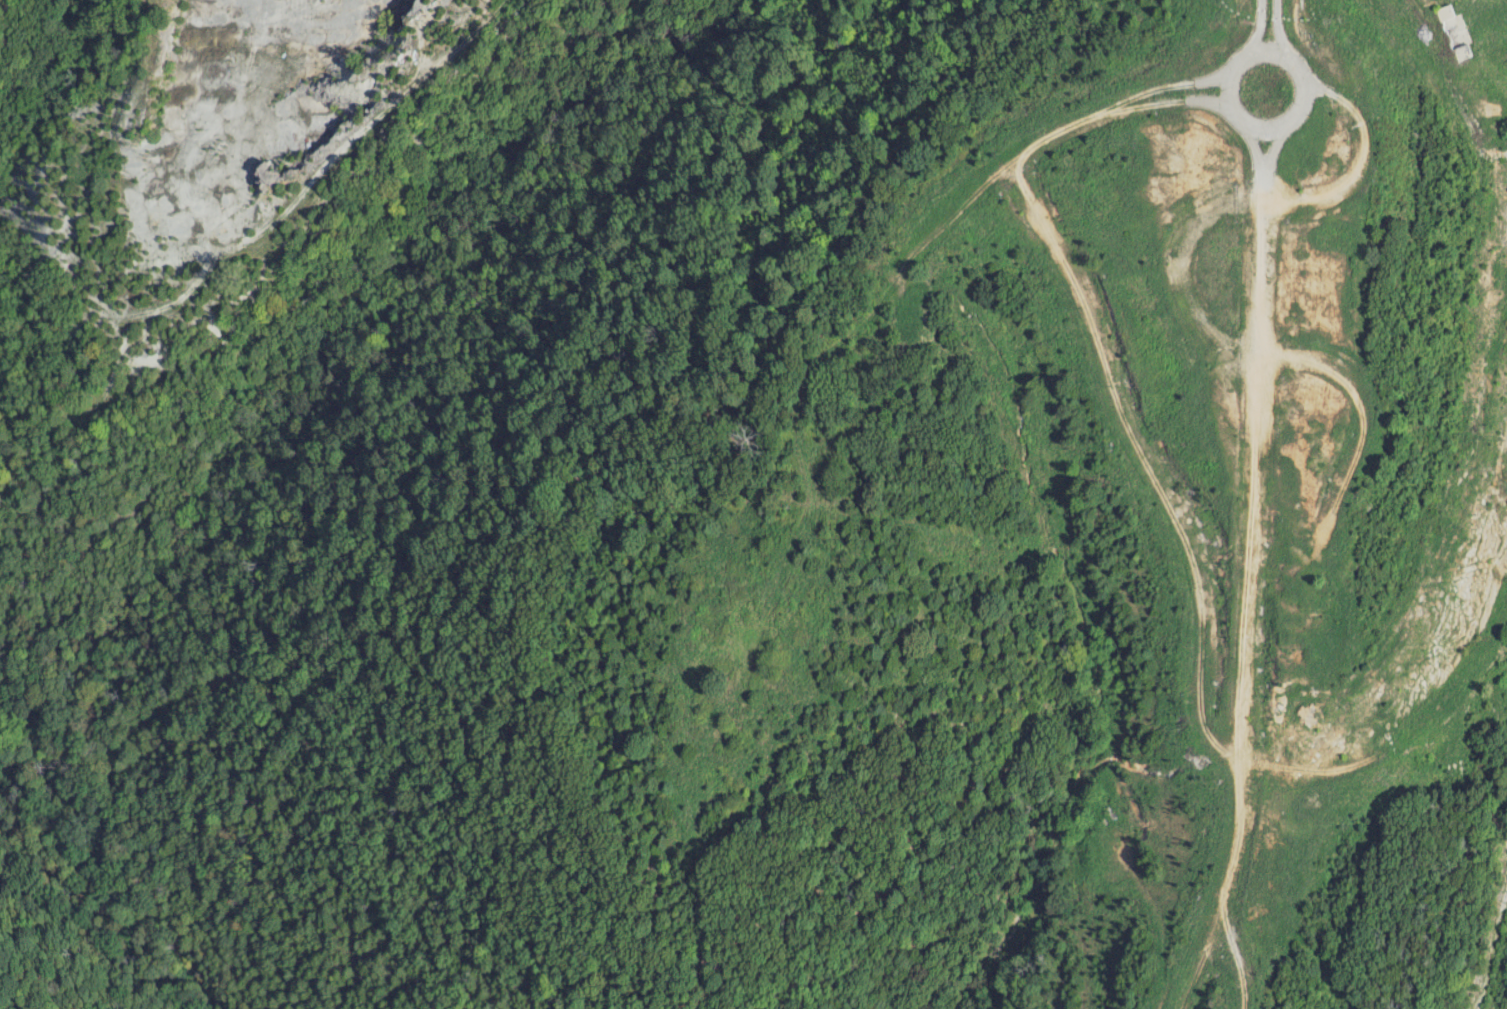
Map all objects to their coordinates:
road: (1258, 25)
road: (1276, 28)
road: (1231, 111)
road: (1255, 155)
road: (1248, 545)
road: (1229, 952)
road: (1199, 956)

